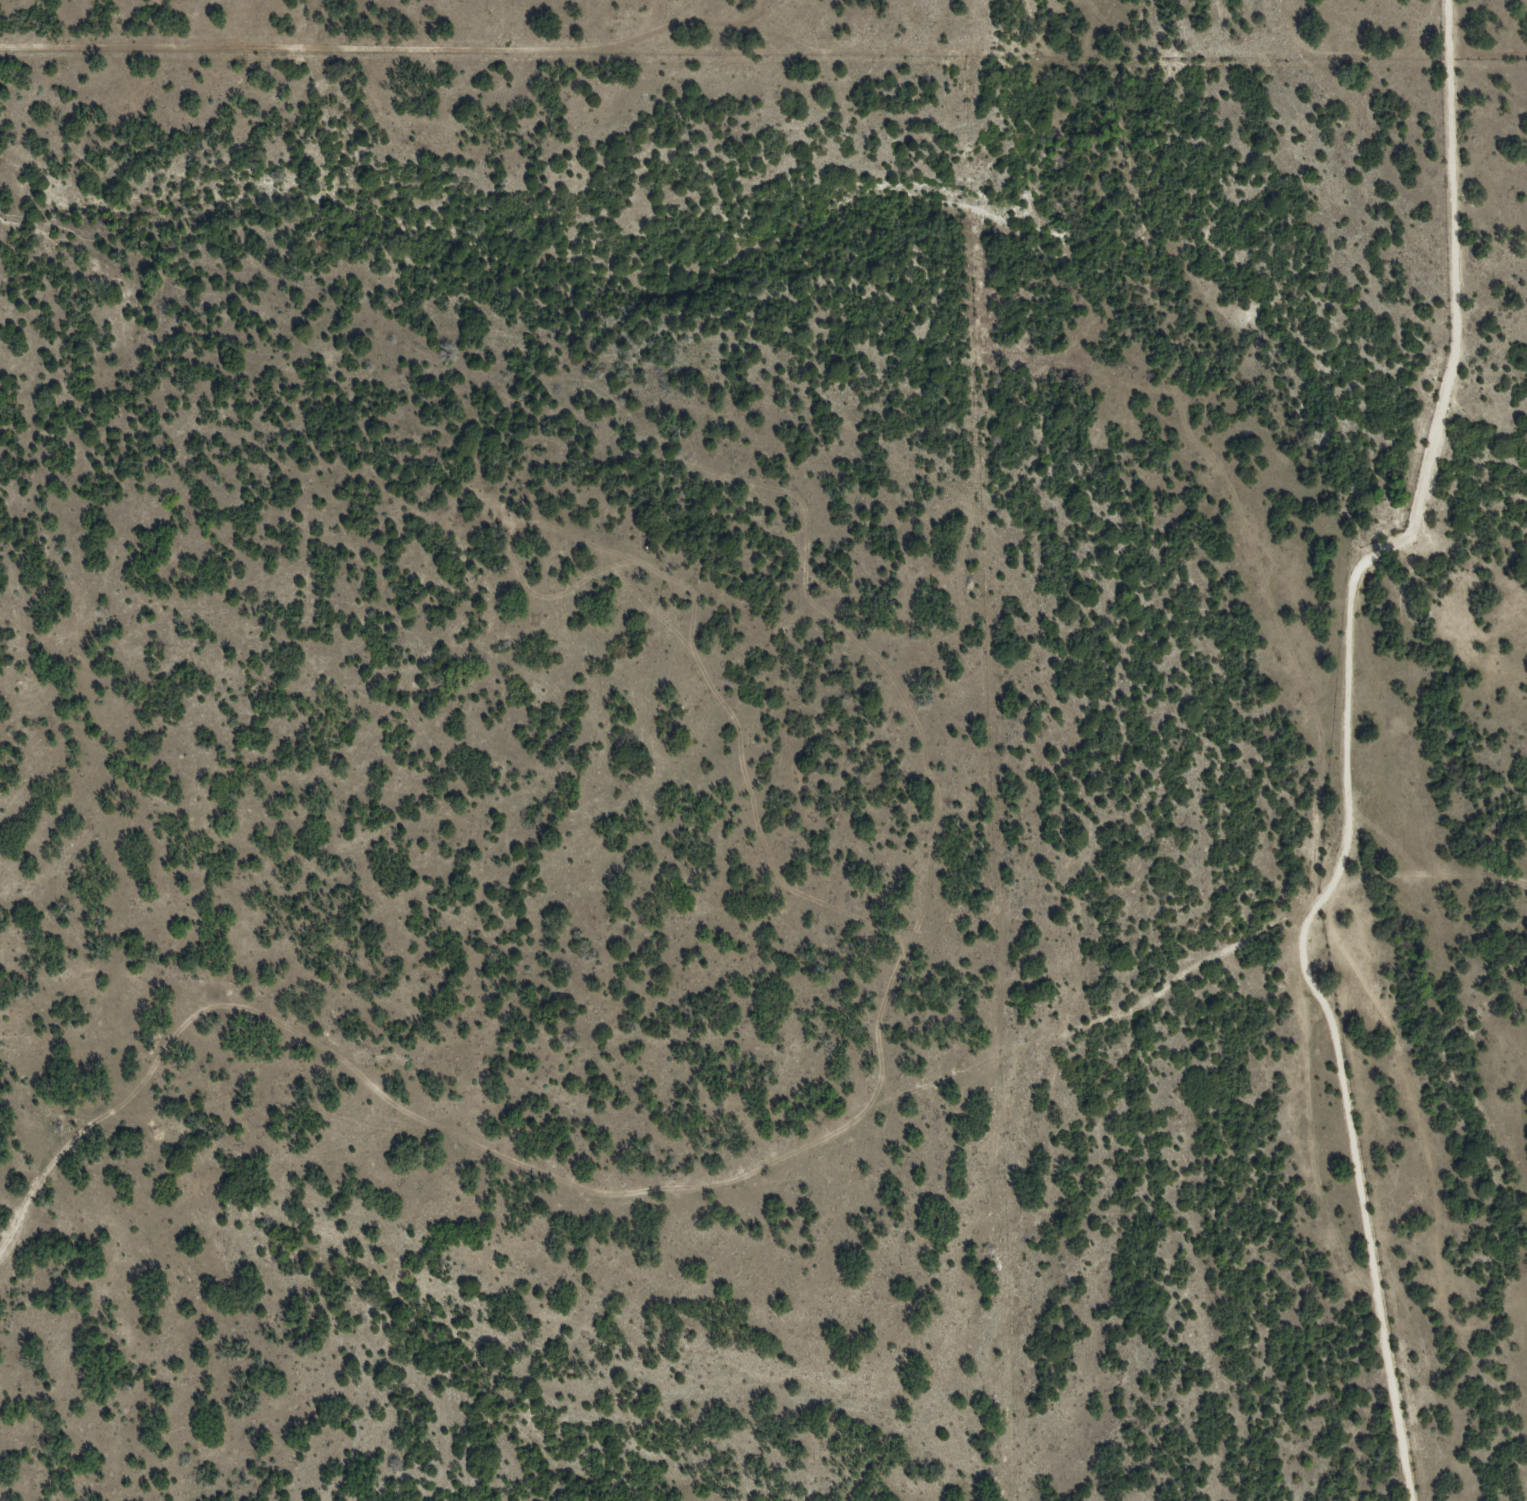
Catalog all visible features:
road: (1426, 469)
road: (740, 1167)

